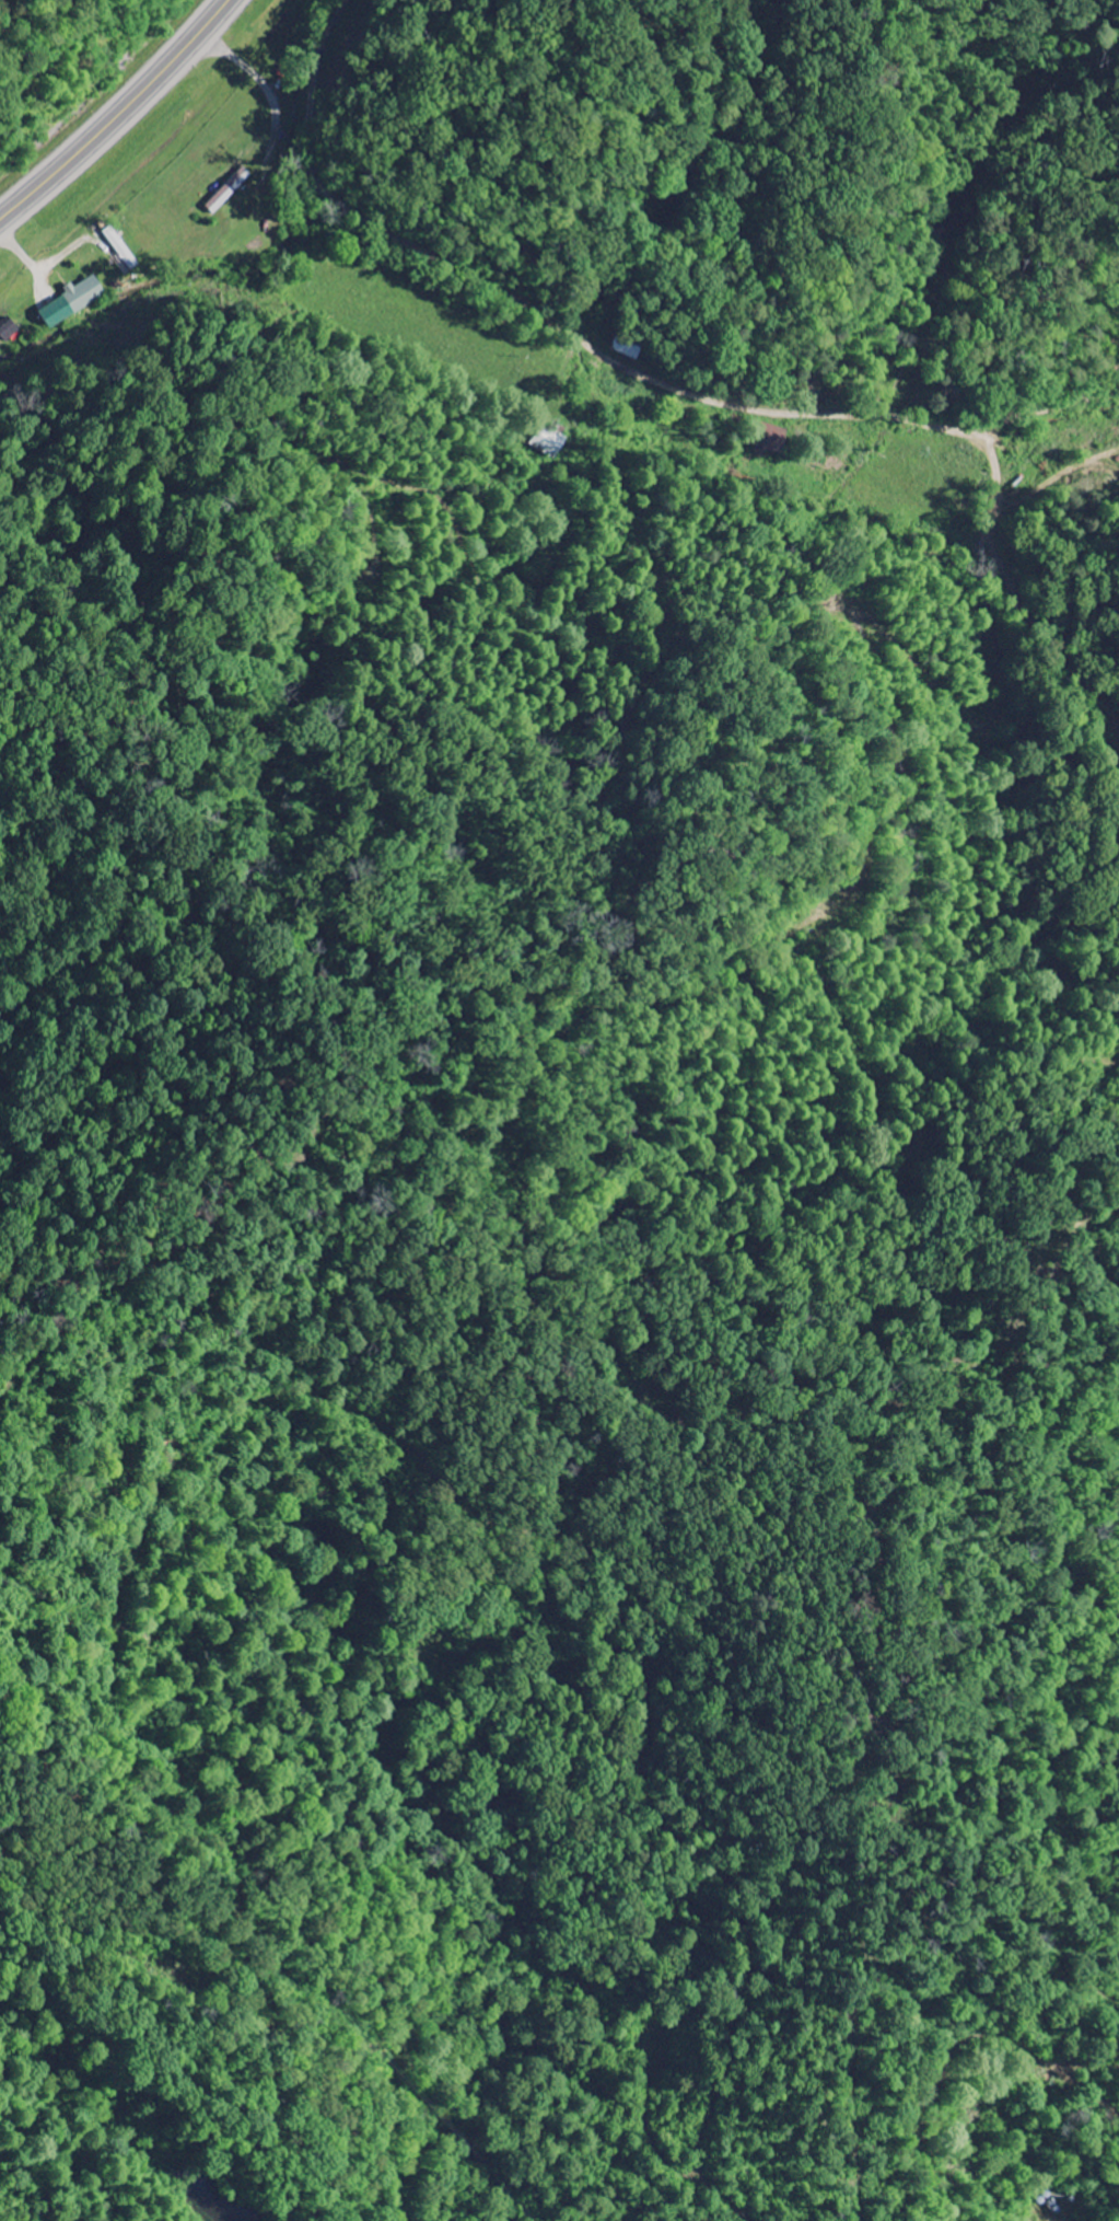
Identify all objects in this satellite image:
road: (120, 116)
road: (322, 118)
building: (72, 302)
building: (8, 329)
road: (721, 381)
building: (771, 440)
building: (547, 442)

